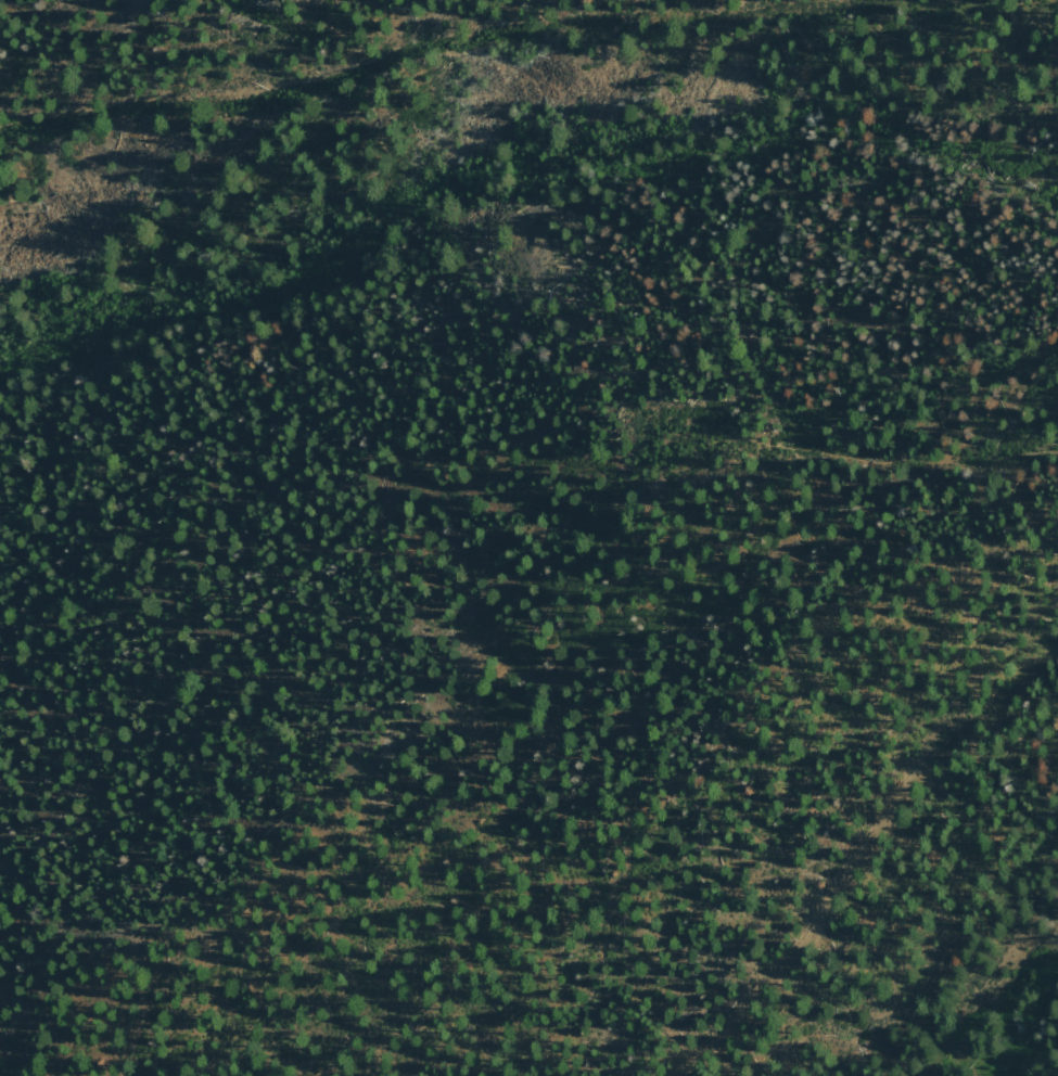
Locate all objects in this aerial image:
road: (310, 444)
road: (907, 461)
road: (626, 815)
road: (987, 972)

